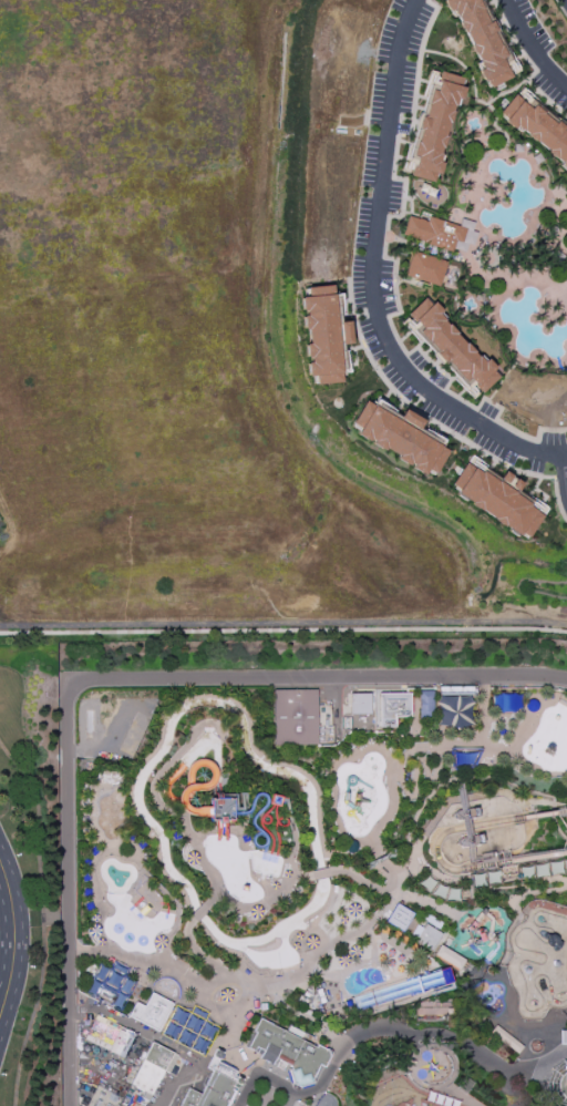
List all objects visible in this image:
road: (566, 1)
building: (481, 39)
road: (532, 48)
parking lot: (536, 50)
building: (434, 127)
building: (536, 129)
building: (466, 224)
building: (434, 233)
parking lot: (370, 235)
building: (470, 237)
building: (460, 246)
building: (426, 268)
road: (373, 278)
building: (324, 334)
road: (400, 341)
building: (450, 347)
road: (436, 423)
building: (401, 434)
road: (565, 457)
road: (564, 475)
building: (499, 498)
road: (518, 588)
road: (283, 624)
road: (283, 631)
road: (107, 680)
building: (424, 703)
building: (360, 704)
building: (393, 708)
building: (454, 711)
building: (296, 719)
building: (549, 738)
road: (380, 749)
road: (171, 762)
building: (220, 808)
theme park: (269, 837)
road: (375, 837)
road: (295, 842)
theme park: (312, 872)
road: (321, 874)
road: (359, 881)
road: (212, 901)
road: (225, 902)
road: (198, 914)
building: (399, 918)
road: (42, 919)
road: (7, 935)
building: (429, 939)
road: (27, 944)
road: (75, 953)
building: (450, 957)
road: (148, 965)
road: (240, 981)
building: (107, 989)
road: (215, 1000)
building: (151, 1013)
building: (566, 1028)
building: (188, 1030)
road: (384, 1032)
building: (109, 1036)
building: (563, 1038)
road: (159, 1046)
toll booth: (234, 1047)
building: (290, 1052)
road: (456, 1063)
road: (429, 1066)
building: (153, 1071)
building: (215, 1085)
building: (563, 1086)
road: (517, 1093)
building: (105, 1098)
road: (450, 1098)
road: (429, 1103)
road: (429, 1105)

